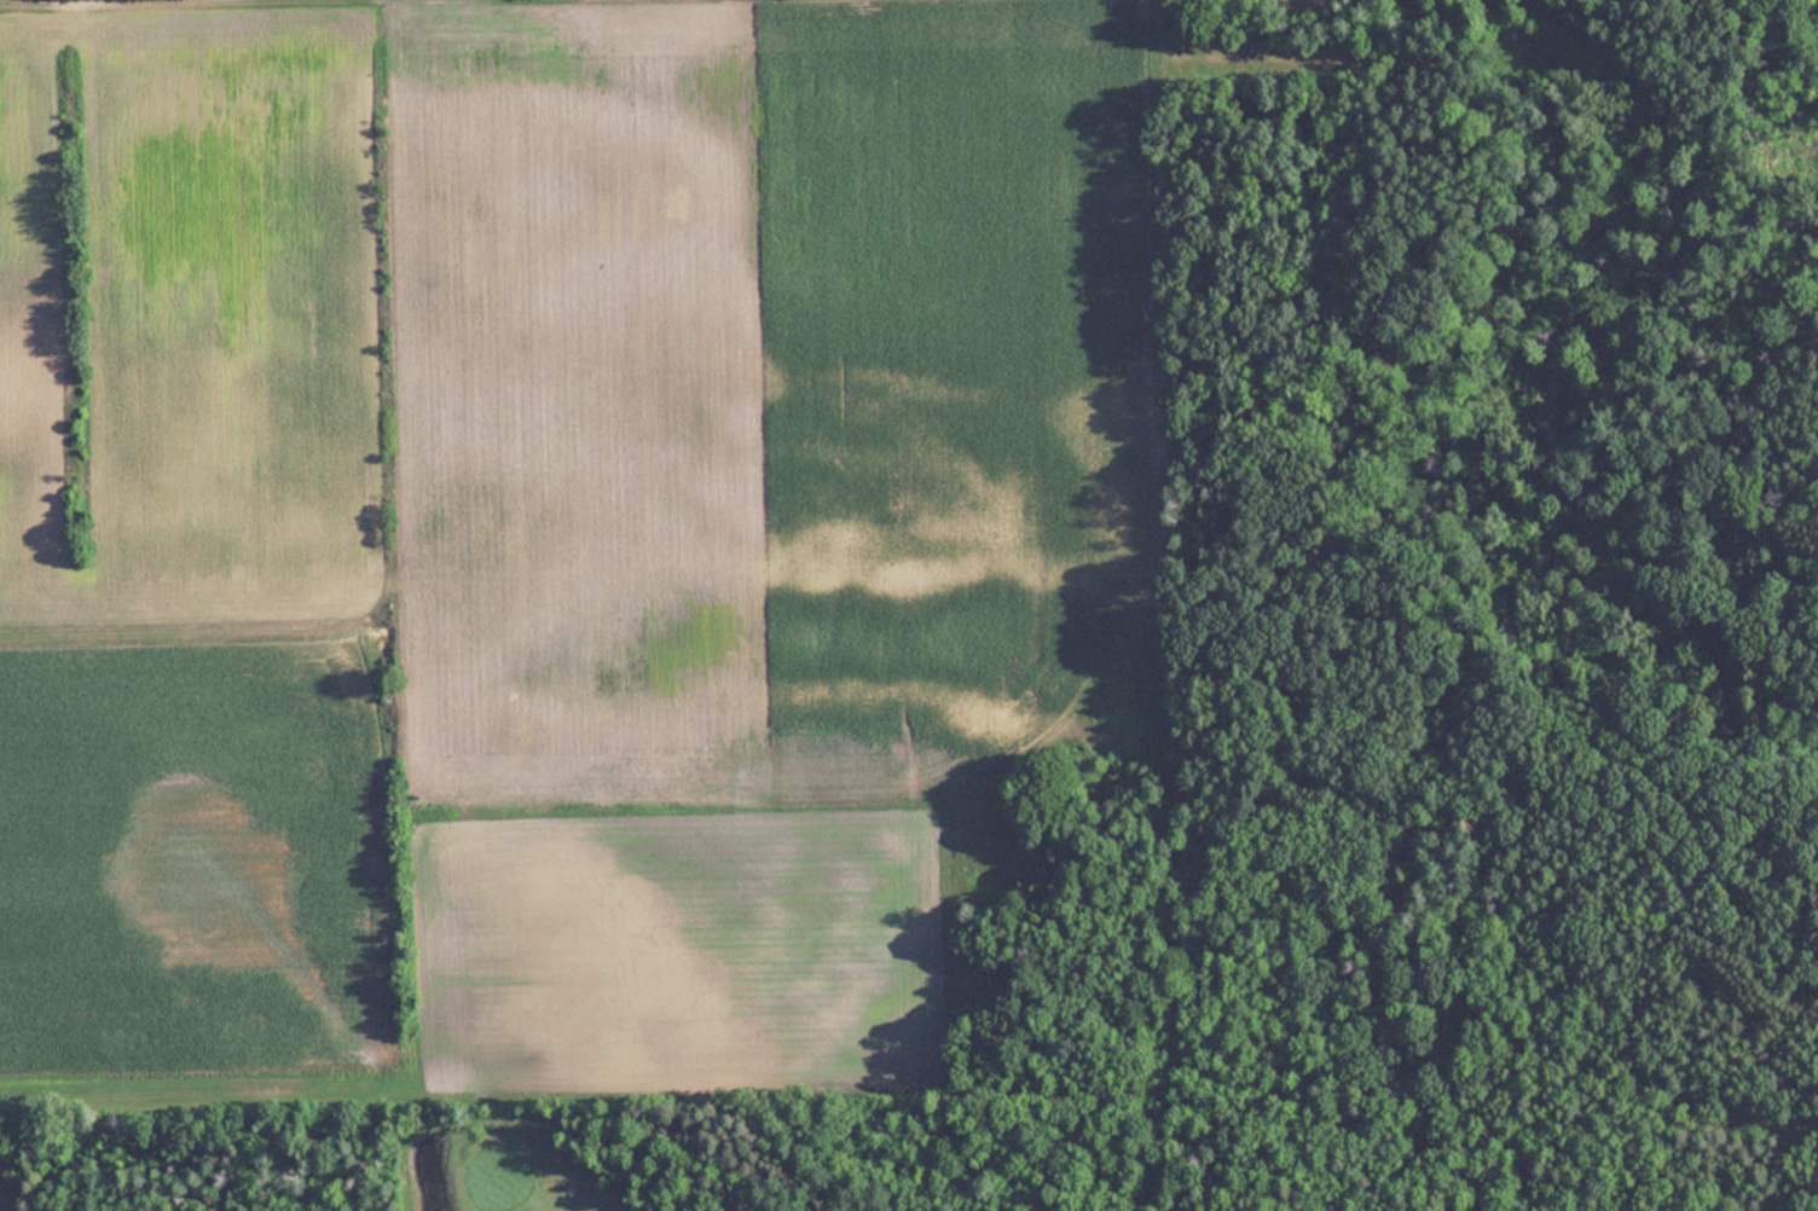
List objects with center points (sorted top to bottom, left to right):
park: (419, 1146)
park: (499, 1174)

